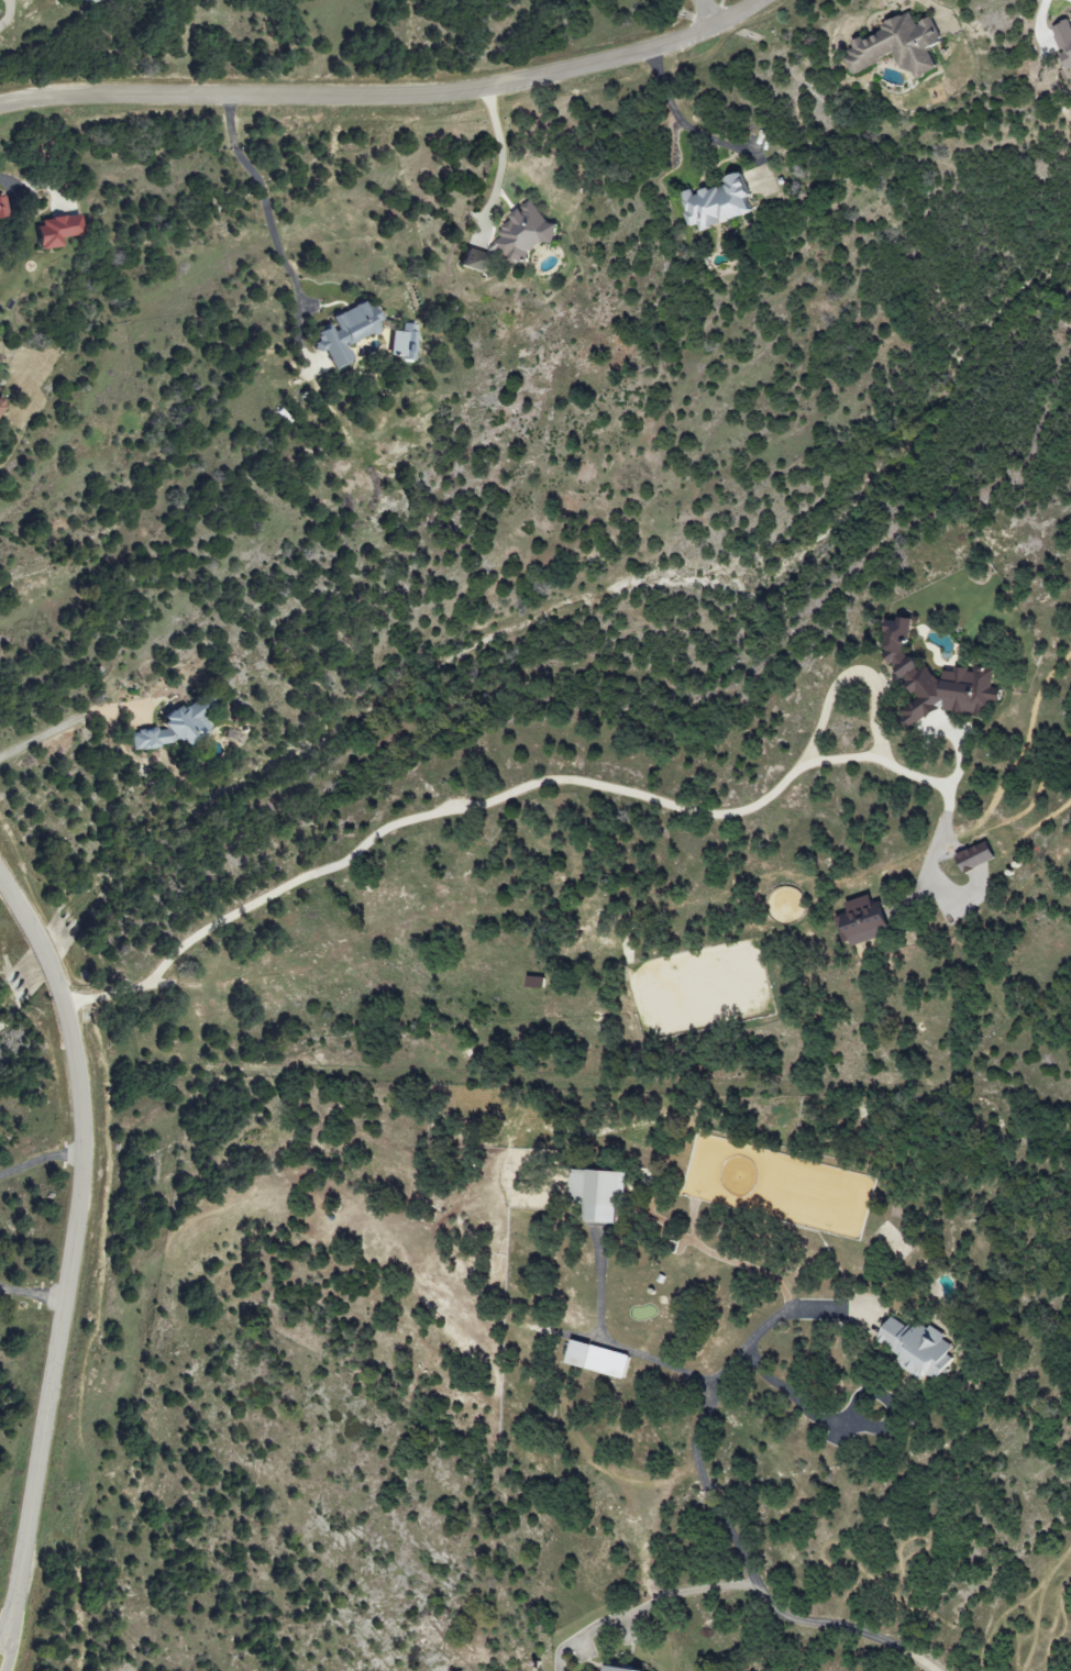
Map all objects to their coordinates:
road: (937, 7)
road: (708, 13)
building: (1063, 41)
building: (897, 45)
road: (390, 93)
road: (680, 121)
road: (500, 161)
road: (265, 197)
building: (0, 202)
building: (717, 202)
building: (56, 230)
building: (523, 232)
building: (473, 261)
building: (345, 332)
building: (401, 342)
building: (0, 402)
building: (935, 679)
building: (175, 724)
road: (40, 738)
road: (455, 805)
road: (945, 829)
building: (974, 857)
building: (862, 921)
building: (534, 982)
road: (42, 1161)
building: (595, 1194)
road: (73, 1242)
road: (31, 1294)
road: (614, 1343)
building: (916, 1347)
building: (597, 1359)
road: (844, 1421)
road: (711, 1503)
road: (664, 1600)
road: (4, 1627)
road: (7, 1644)
building: (617, 1669)

